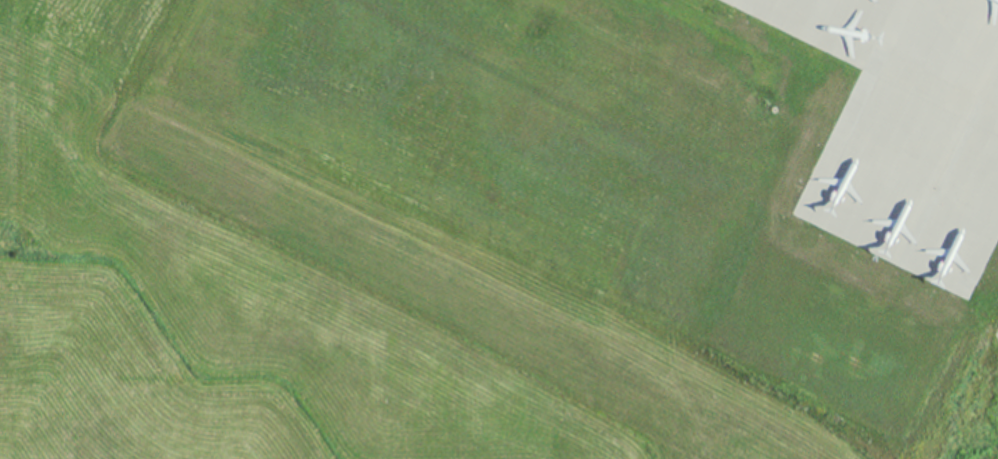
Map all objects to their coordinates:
airport apron: (908, 130)
airport: (499, 229)

